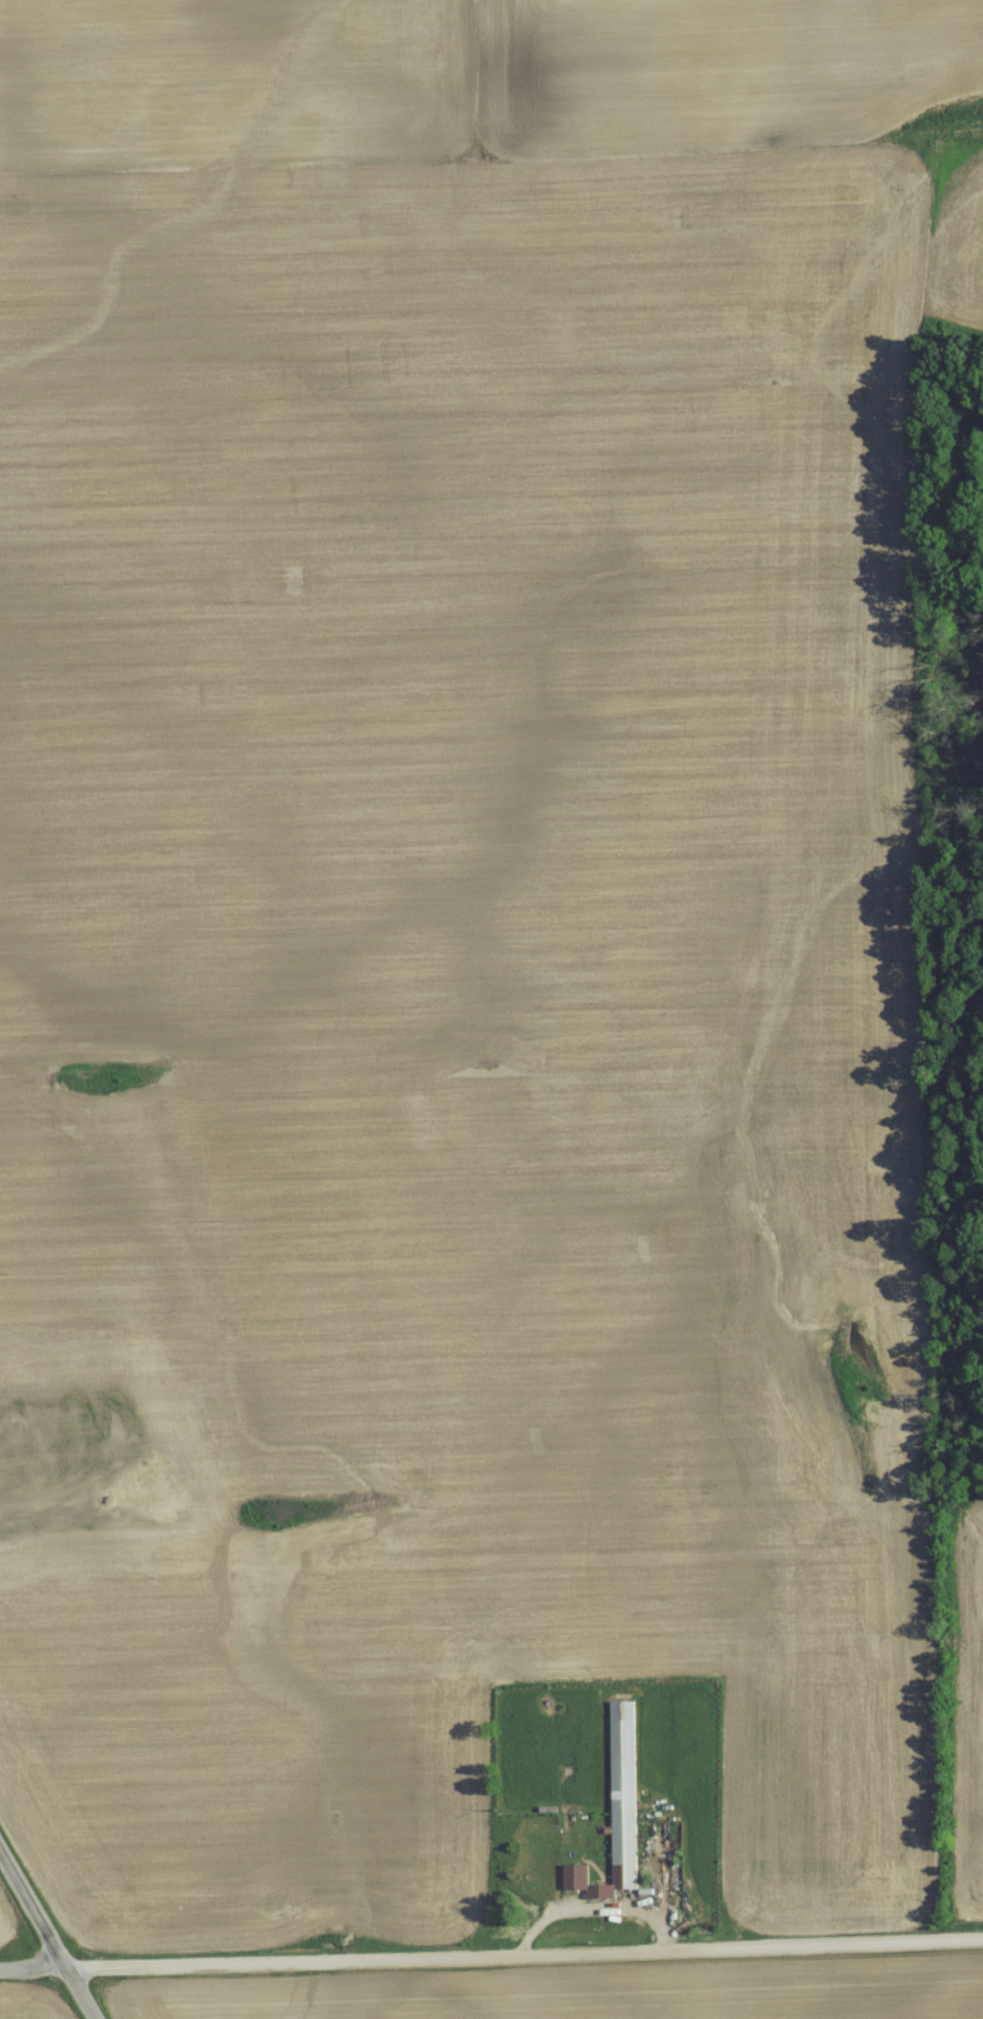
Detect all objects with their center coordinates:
building: (620, 1809)
road: (50, 1931)
road: (491, 1956)

